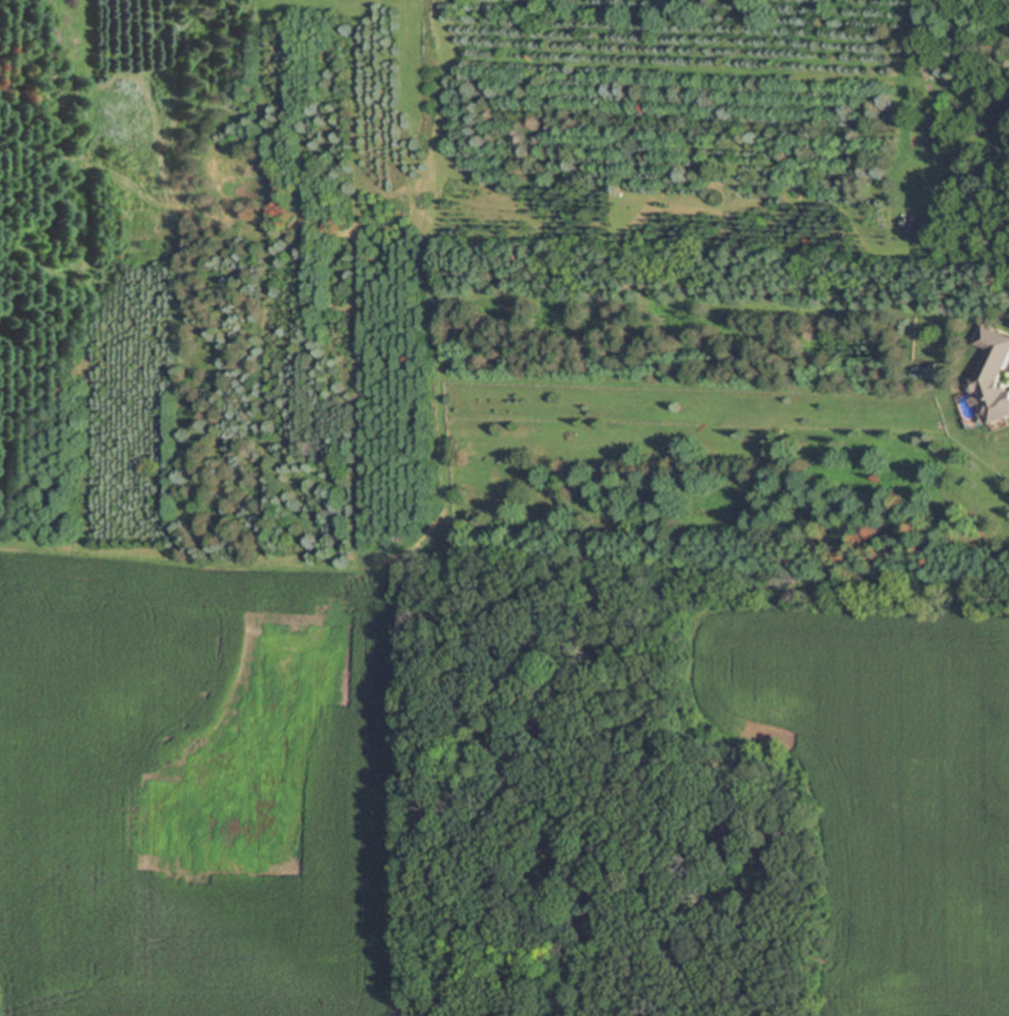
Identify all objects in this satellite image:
building: (991, 374)

